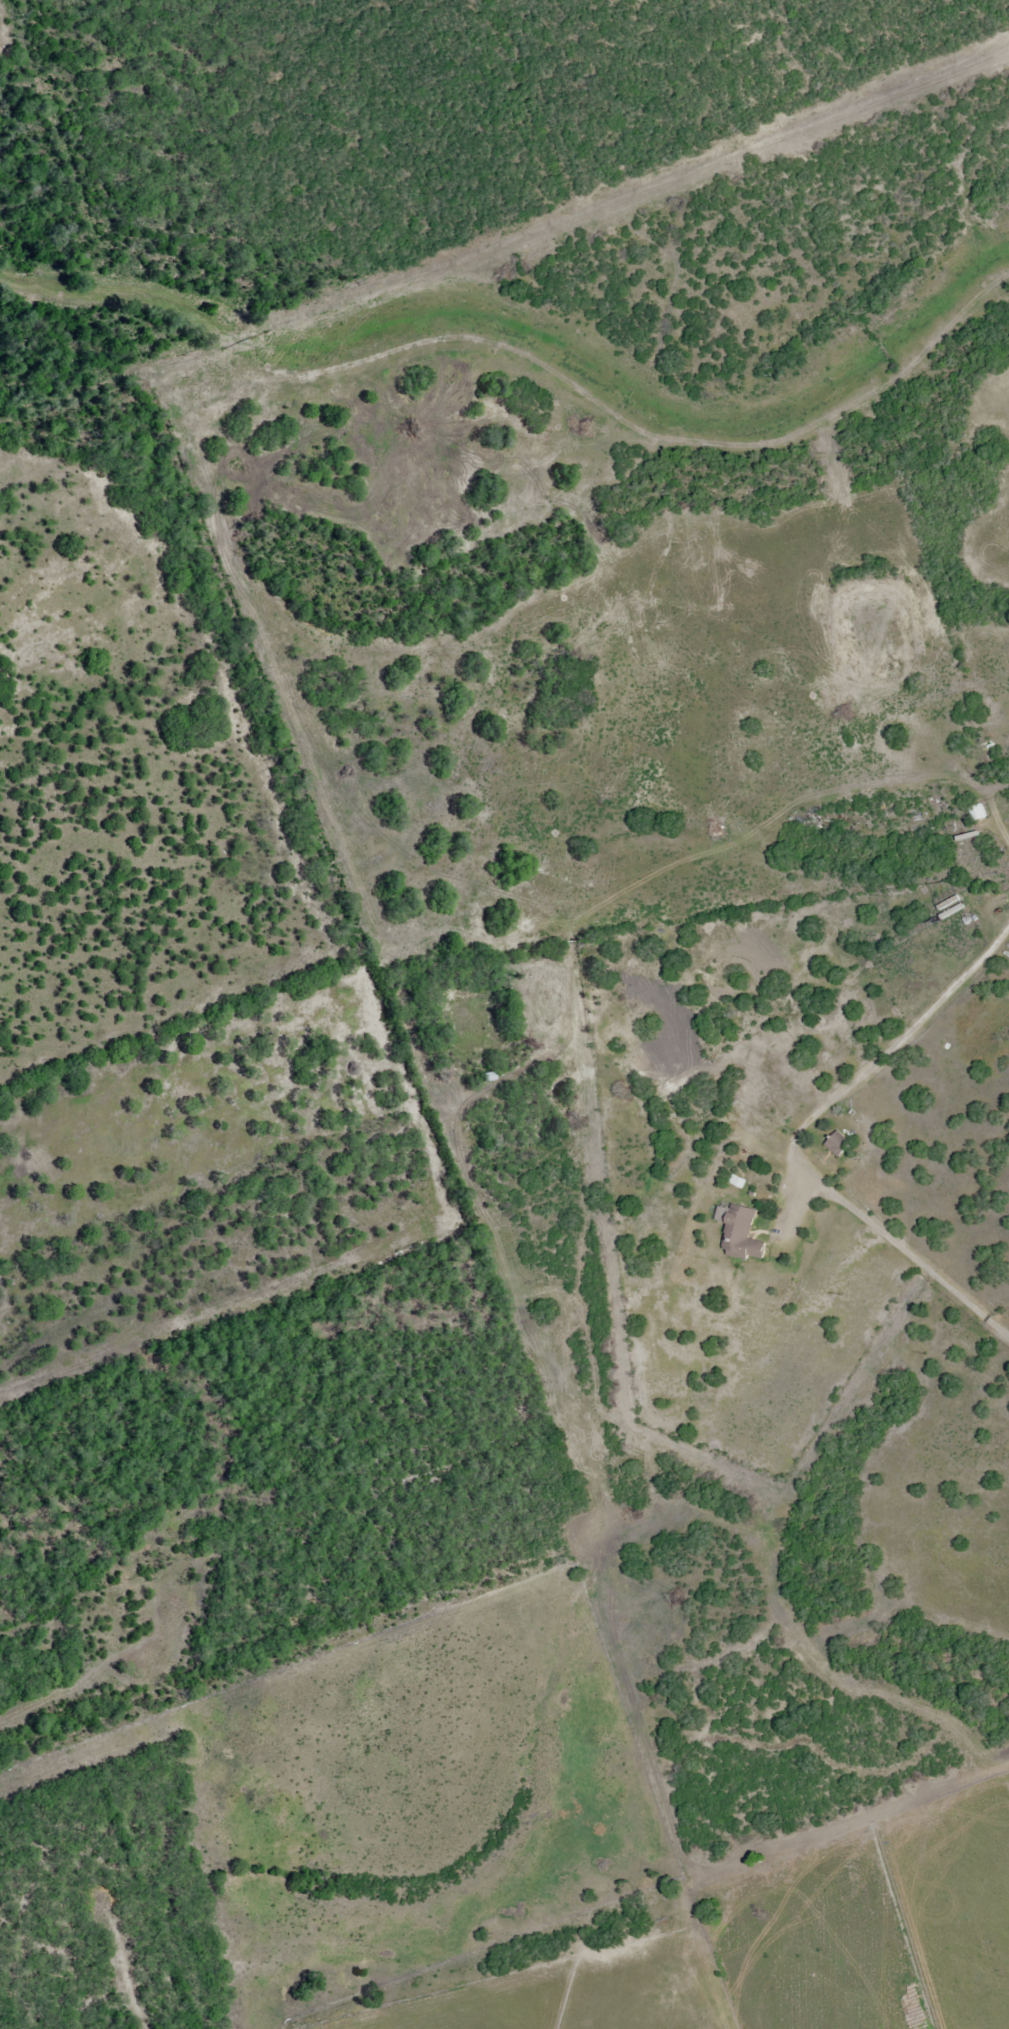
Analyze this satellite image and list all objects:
building: (972, 813)
building: (941, 901)
building: (831, 1144)
building: (737, 1235)

